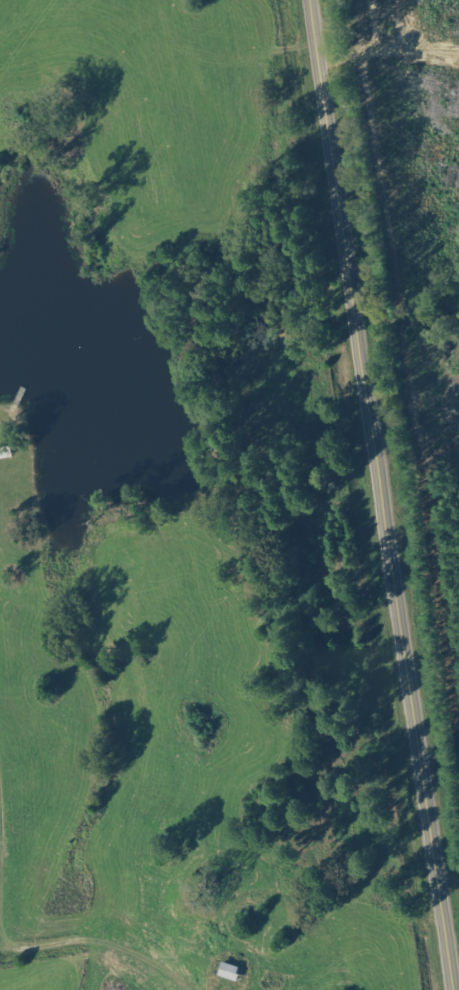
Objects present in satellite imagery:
road: (383, 495)

